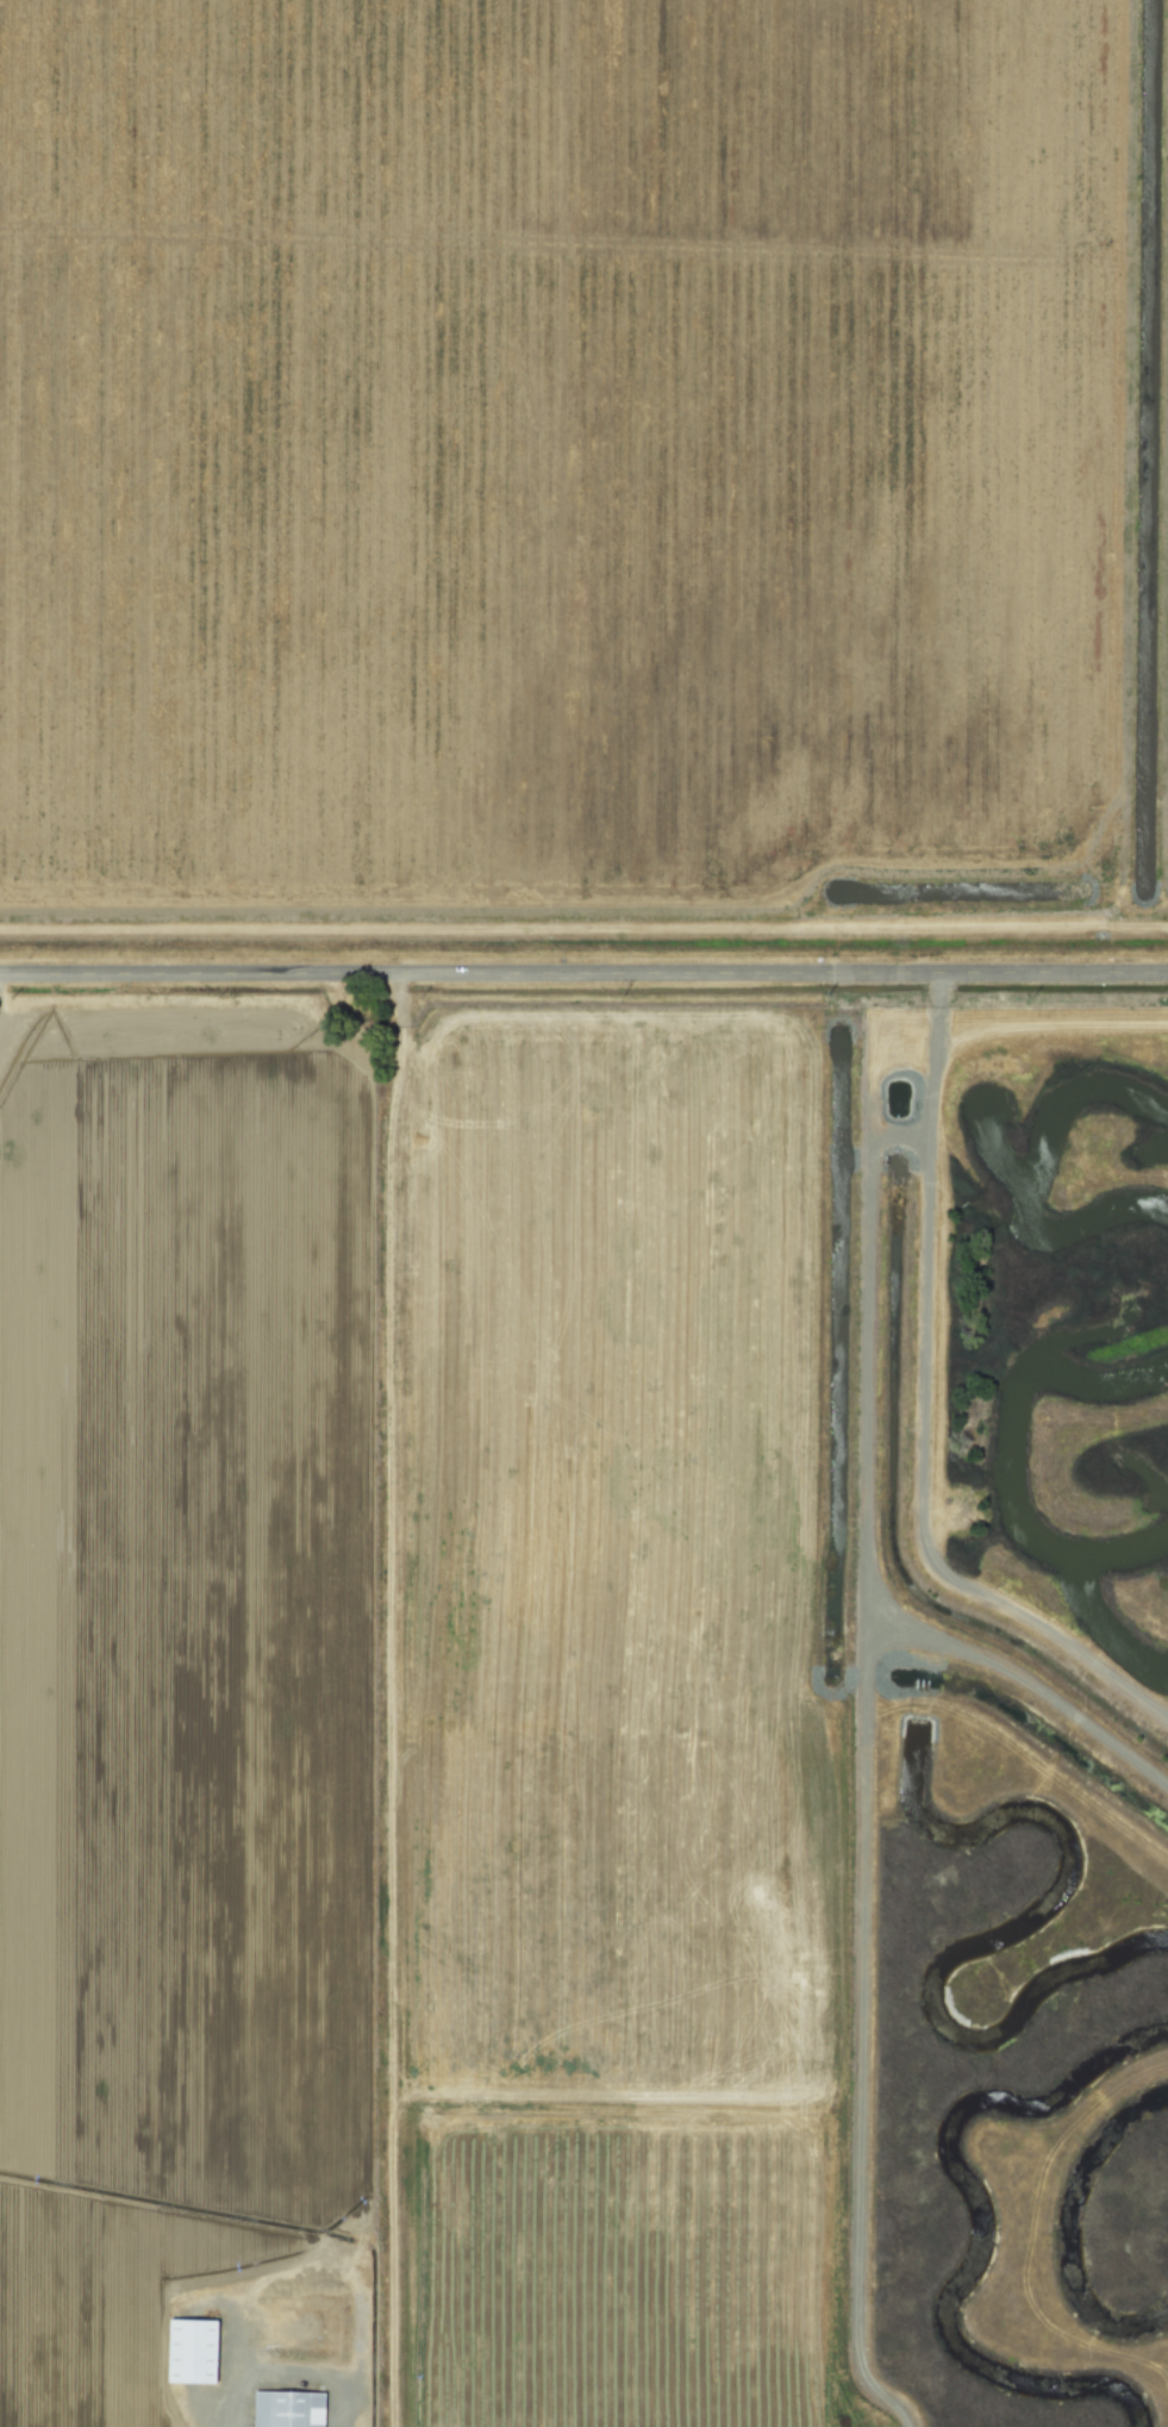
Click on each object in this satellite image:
crop: (582, 464)
road: (583, 973)
building: (192, 2348)
road: (232, 2373)
building: (287, 2408)

